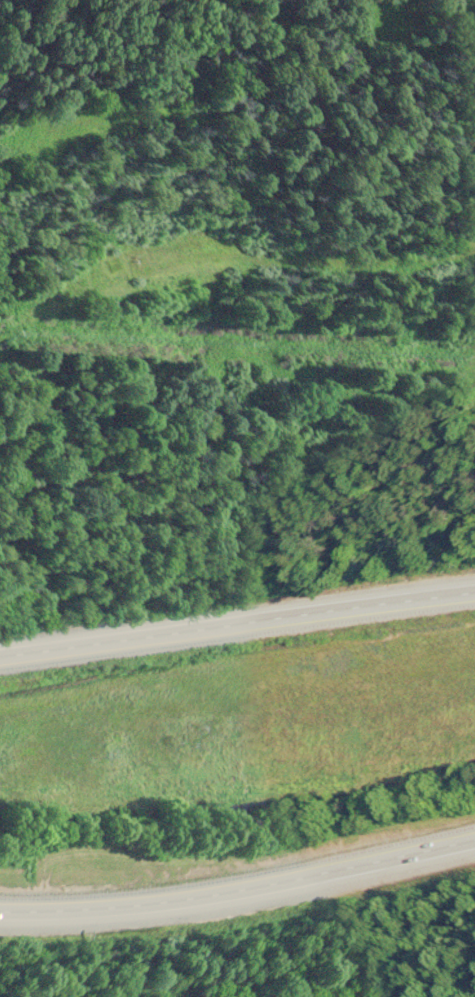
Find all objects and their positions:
road: (237, 623)
road: (239, 884)

